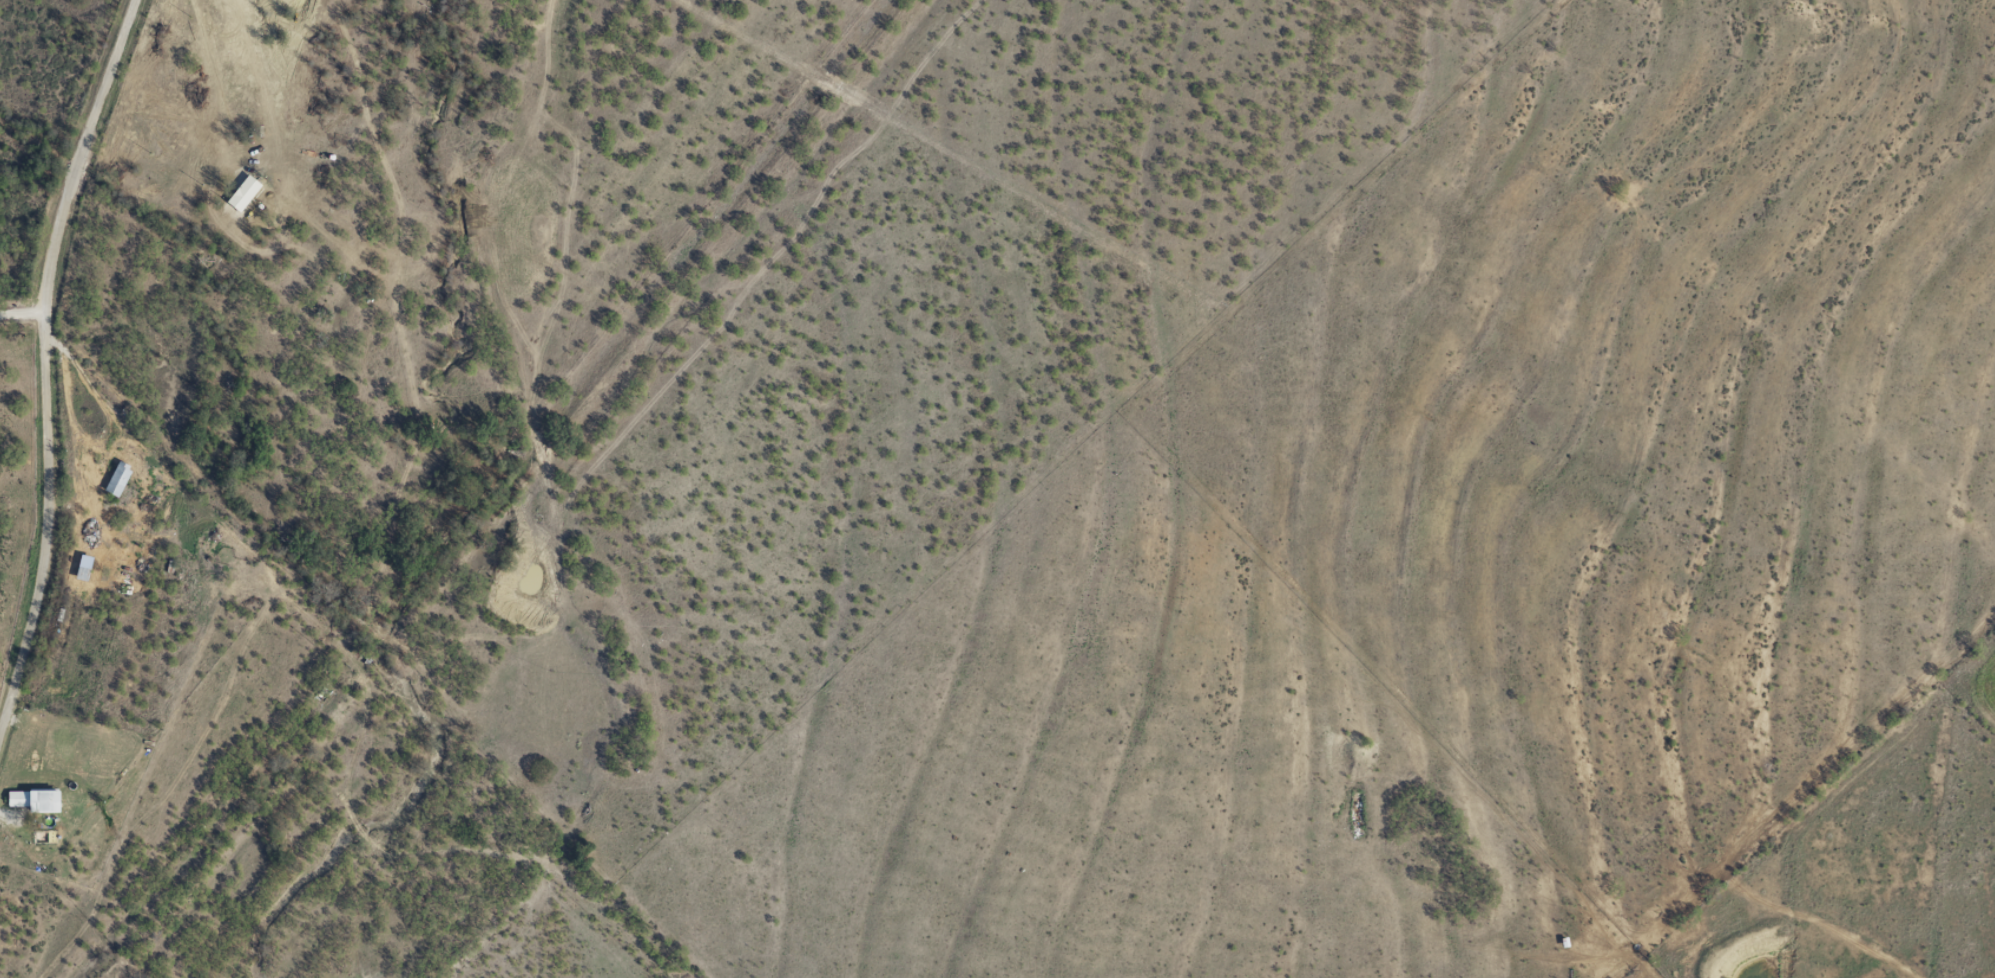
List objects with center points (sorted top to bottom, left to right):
road: (31, 317)
road: (15, 332)
building: (117, 479)
railway: (521, 504)
building: (83, 568)
building: (34, 799)

